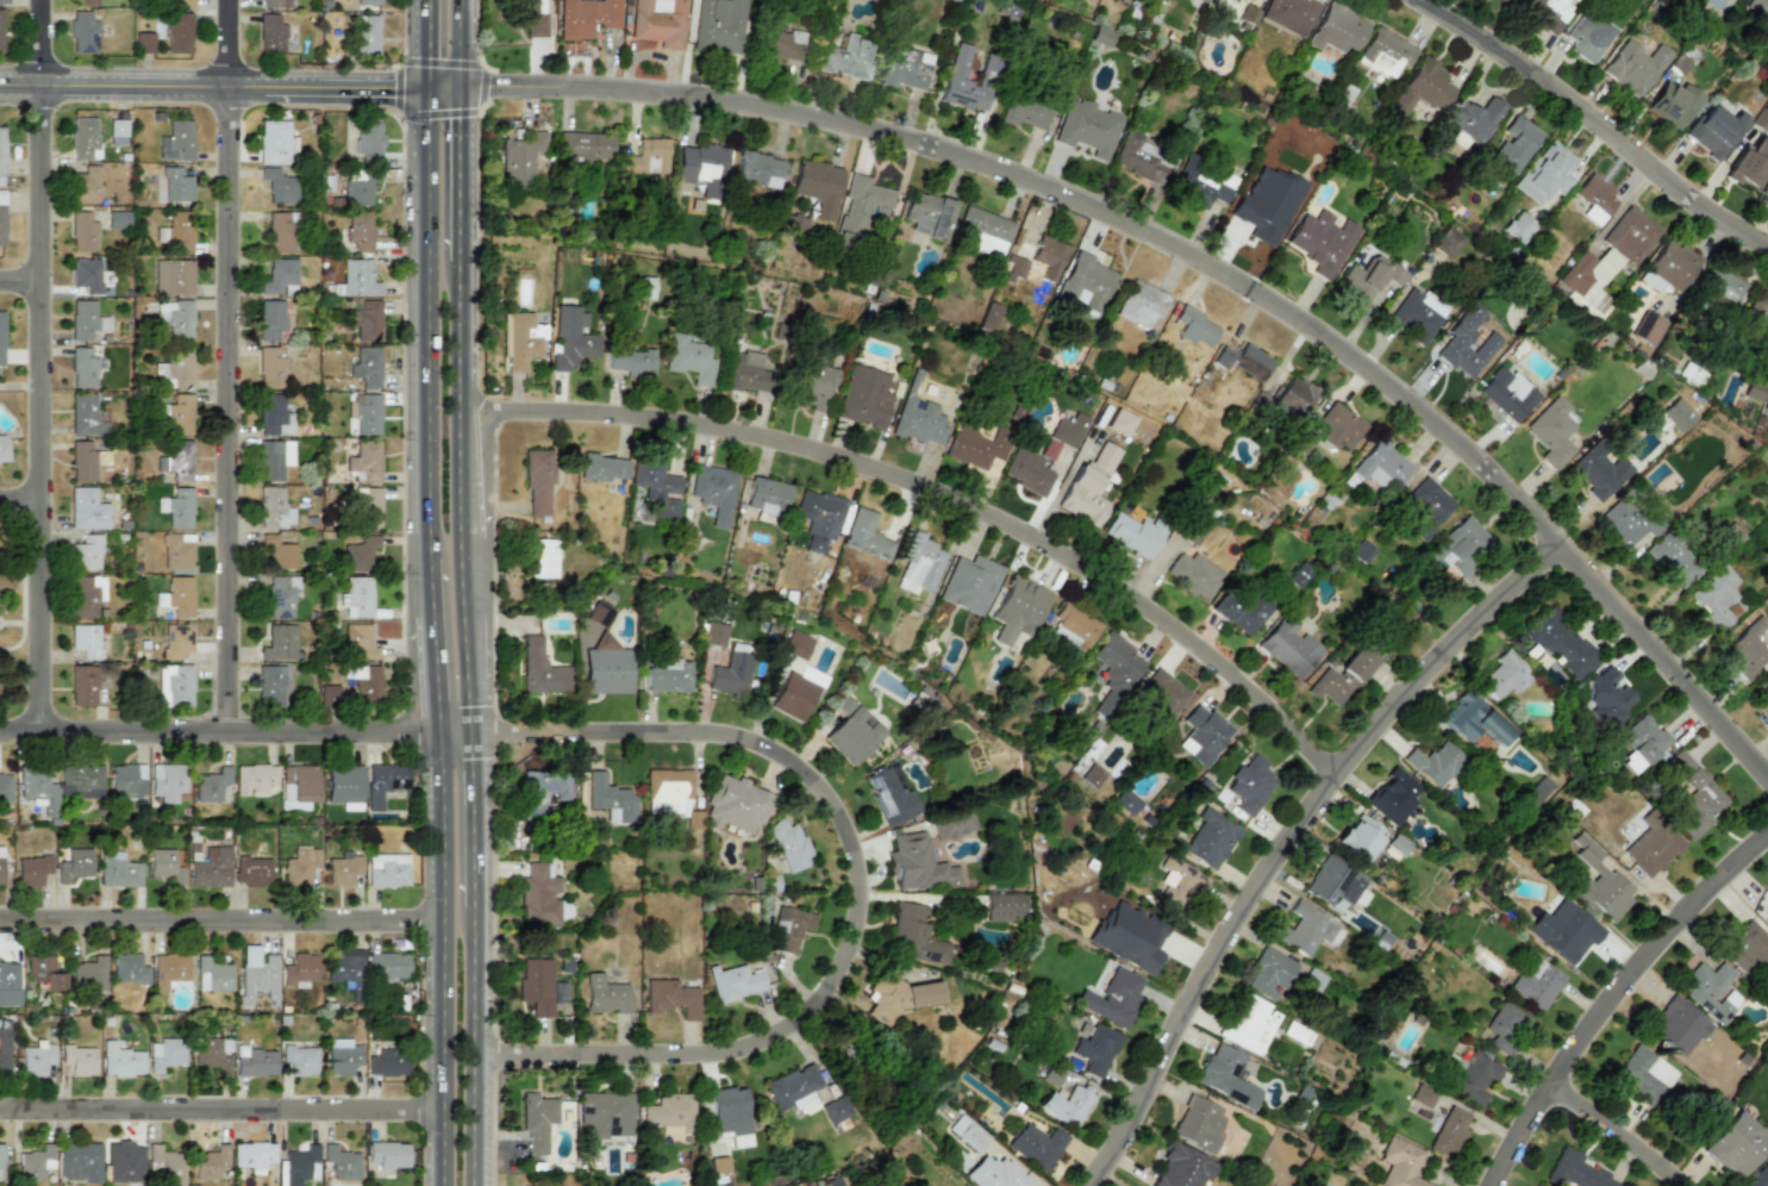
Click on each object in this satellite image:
building: (1200, 0)
building: (1230, 0)
building: (2, 1)
building: (85, 2)
building: (368, 2)
building: (180, 4)
building: (273, 4)
building: (1758, 7)
building: (1544, 13)
building: (1289, 14)
building: (532, 17)
building: (658, 23)
building: (719, 25)
building: (1, 30)
building: (1337, 30)
building: (82, 32)
building: (179, 33)
building: (270, 35)
building: (366, 35)
building: (1587, 36)
building: (1102, 37)
building: (144, 43)
road: (429, 45)
building: (786, 49)
building: (1385, 54)
building: (846, 57)
building: (1679, 64)
building: (1633, 67)
building: (905, 74)
road: (443, 88)
building: (1422, 88)
road: (214, 90)
building: (1673, 105)
building: (1024, 113)
building: (1763, 118)
building: (1470, 121)
road: (1592, 121)
building: (1087, 129)
building: (1716, 131)
building: (117, 132)
building: (83, 138)
building: (367, 139)
building: (175, 141)
building: (273, 142)
building: (1514, 144)
building: (582, 148)
building: (520, 155)
building: (1, 156)
building: (645, 157)
building: (1139, 158)
building: (701, 163)
building: (1750, 163)
building: (758, 169)
building: (1547, 174)
building: (87, 183)
building: (279, 183)
building: (175, 185)
building: (358, 186)
building: (817, 186)
building: (1199, 188)
building: (1766, 194)
building: (1594, 199)
building: (861, 206)
building: (927, 214)
building: (1, 218)
building: (117, 219)
building: (1518, 226)
building: (982, 230)
building: (358, 231)
building: (82, 232)
building: (175, 232)
building: (281, 232)
building: (1449, 241)
building: (1322, 242)
road: (1200, 260)
building: (1036, 262)
building: (1674, 264)
building: (86, 275)
building: (173, 276)
building: (280, 276)
building: (356, 279)
building: (1368, 279)
road: (21, 281)
building: (1085, 282)
building: (1722, 286)
building: (1141, 304)
building: (1758, 311)
building: (1416, 316)
building: (991, 317)
building: (175, 318)
building: (81, 319)
building: (270, 319)
building: (367, 320)
road: (429, 324)
building: (1195, 327)
building: (1648, 329)
building: (1, 338)
building: (570, 341)
building: (518, 342)
building: (1466, 344)
building: (691, 357)
building: (1222, 357)
building: (632, 362)
building: (1250, 362)
road: (43, 364)
road: (227, 364)
building: (366, 366)
building: (82, 368)
building: (270, 368)
building: (175, 369)
building: (744, 373)
building: (816, 386)
building: (1755, 387)
building: (1506, 394)
building: (1294, 397)
building: (866, 398)
building: (1766, 401)
building: (176, 413)
building: (364, 413)
building: (1678, 414)
building: (271, 416)
building: (919, 422)
building: (1119, 423)
building: (1339, 426)
building: (1068, 430)
building: (1550, 436)
building: (1299, 447)
building: (975, 448)
building: (4, 449)
building: (273, 458)
building: (177, 460)
building: (82, 461)
building: (364, 462)
building: (1381, 466)
building: (602, 468)
building: (1026, 469)
building: (537, 481)
building: (656, 486)
building: (1088, 487)
building: (713, 492)
road: (936, 495)
building: (1608, 495)
building: (767, 498)
road: (21, 500)
building: (176, 507)
building: (367, 507)
building: (1427, 507)
building: (274, 508)
building: (86, 510)
building: (818, 518)
building: (1195, 529)
building: (1133, 533)
building: (867, 535)
building: (1728, 537)
building: (1458, 547)
building: (279, 549)
building: (175, 550)
building: (1361, 551)
building: (86, 553)
building: (358, 553)
building: (543, 558)
building: (1672, 560)
building: (918, 564)
building: (1194, 575)
building: (969, 583)
road: (431, 586)
road: (463, 593)
building: (85, 594)
building: (176, 595)
building: (1714, 595)
building: (281, 597)
building: (356, 597)
building: (1018, 610)
building: (1241, 612)
building: (599, 613)
park: (12, 616)
building: (1073, 628)
building: (713, 635)
building: (85, 639)
building: (175, 639)
building: (358, 639)
building: (279, 642)
road: (19, 643)
building: (796, 644)
building: (1747, 647)
building: (1287, 648)
building: (539, 669)
building: (800, 669)
building: (1116, 669)
building: (607, 672)
road: (436, 673)
building: (731, 674)
building: (1505, 675)
building: (669, 676)
building: (1342, 676)
building: (363, 680)
road: (417, 680)
building: (83, 685)
building: (174, 685)
building: (270, 685)
building: (327, 694)
building: (793, 697)
building: (1162, 697)
building: (1607, 697)
building: (1473, 719)
road: (219, 730)
building: (851, 731)
road: (454, 732)
building: (1204, 735)
building: (1643, 738)
building: (1433, 763)
building: (1092, 776)
building: (254, 779)
building: (126, 780)
building: (80, 781)
building: (165, 781)
building: (382, 782)
building: (1250, 784)
building: (210, 785)
building: (298, 785)
building: (5, 787)
building: (344, 787)
building: (38, 791)
building: (543, 791)
building: (667, 792)
building: (1537, 792)
building: (1694, 795)
building: (1392, 797)
building: (891, 798)
building: (610, 799)
building: (1125, 801)
building: (735, 804)
building: (954, 826)
building: (1358, 837)
building: (1211, 838)
road: (1285, 838)
building: (791, 847)
building: (1653, 848)
building: (918, 863)
building: (74, 864)
building: (300, 864)
building: (163, 866)
building: (210, 868)
building: (31, 869)
building: (117, 869)
building: (386, 869)
building: (342, 870)
building: (251, 872)
building: (1598, 881)
building: (1177, 884)
building: (1333, 884)
road: (856, 891)
building: (539, 895)
building: (1005, 907)
building: (1767, 910)
road: (221, 916)
building: (791, 928)
building: (1563, 931)
building: (914, 935)
building: (1129, 938)
building: (1747, 949)
road: (444, 959)
building: (344, 965)
building: (387, 966)
building: (127, 968)
building: (168, 969)
building: (300, 969)
building: (42, 972)
building: (88, 973)
building: (1269, 973)
building: (212, 974)
building: (257, 974)
building: (8, 976)
building: (735, 982)
building: (1536, 982)
building: (536, 985)
building: (1708, 988)
road: (1608, 991)
building: (557, 993)
building: (923, 994)
building: (606, 995)
building: (1111, 995)
building: (671, 998)
building: (886, 998)
building: (1249, 1024)
building: (1676, 1025)
building: (1504, 1028)
building: (4, 1049)
building: (1095, 1049)
building: (212, 1053)
building: (164, 1054)
building: (341, 1056)
building: (36, 1057)
building: (79, 1059)
building: (121, 1060)
building: (300, 1060)
building: (255, 1061)
building: (387, 1065)
building: (1642, 1074)
building: (1051, 1075)
building: (1225, 1075)
building: (1472, 1078)
building: (794, 1088)
building: (1423, 1096)
road: (221, 1104)
building: (1066, 1105)
building: (835, 1110)
building: (606, 1113)
building: (670, 1113)
building: (731, 1116)
building: (537, 1122)
building: (1198, 1123)
road: (1619, 1129)
building: (1449, 1131)
building: (968, 1132)
building: (1737, 1144)
building: (1036, 1146)
building: (252, 1154)
building: (387, 1154)
building: (0, 1159)
building: (79, 1161)
building: (208, 1161)
building: (35, 1162)
building: (341, 1162)
building: (123, 1163)
building: (164, 1163)
building: (1400, 1163)
building: (296, 1166)
building: (719, 1166)
building: (1181, 1167)
building: (1574, 1171)
building: (994, 1173)
building: (1758, 1176)

